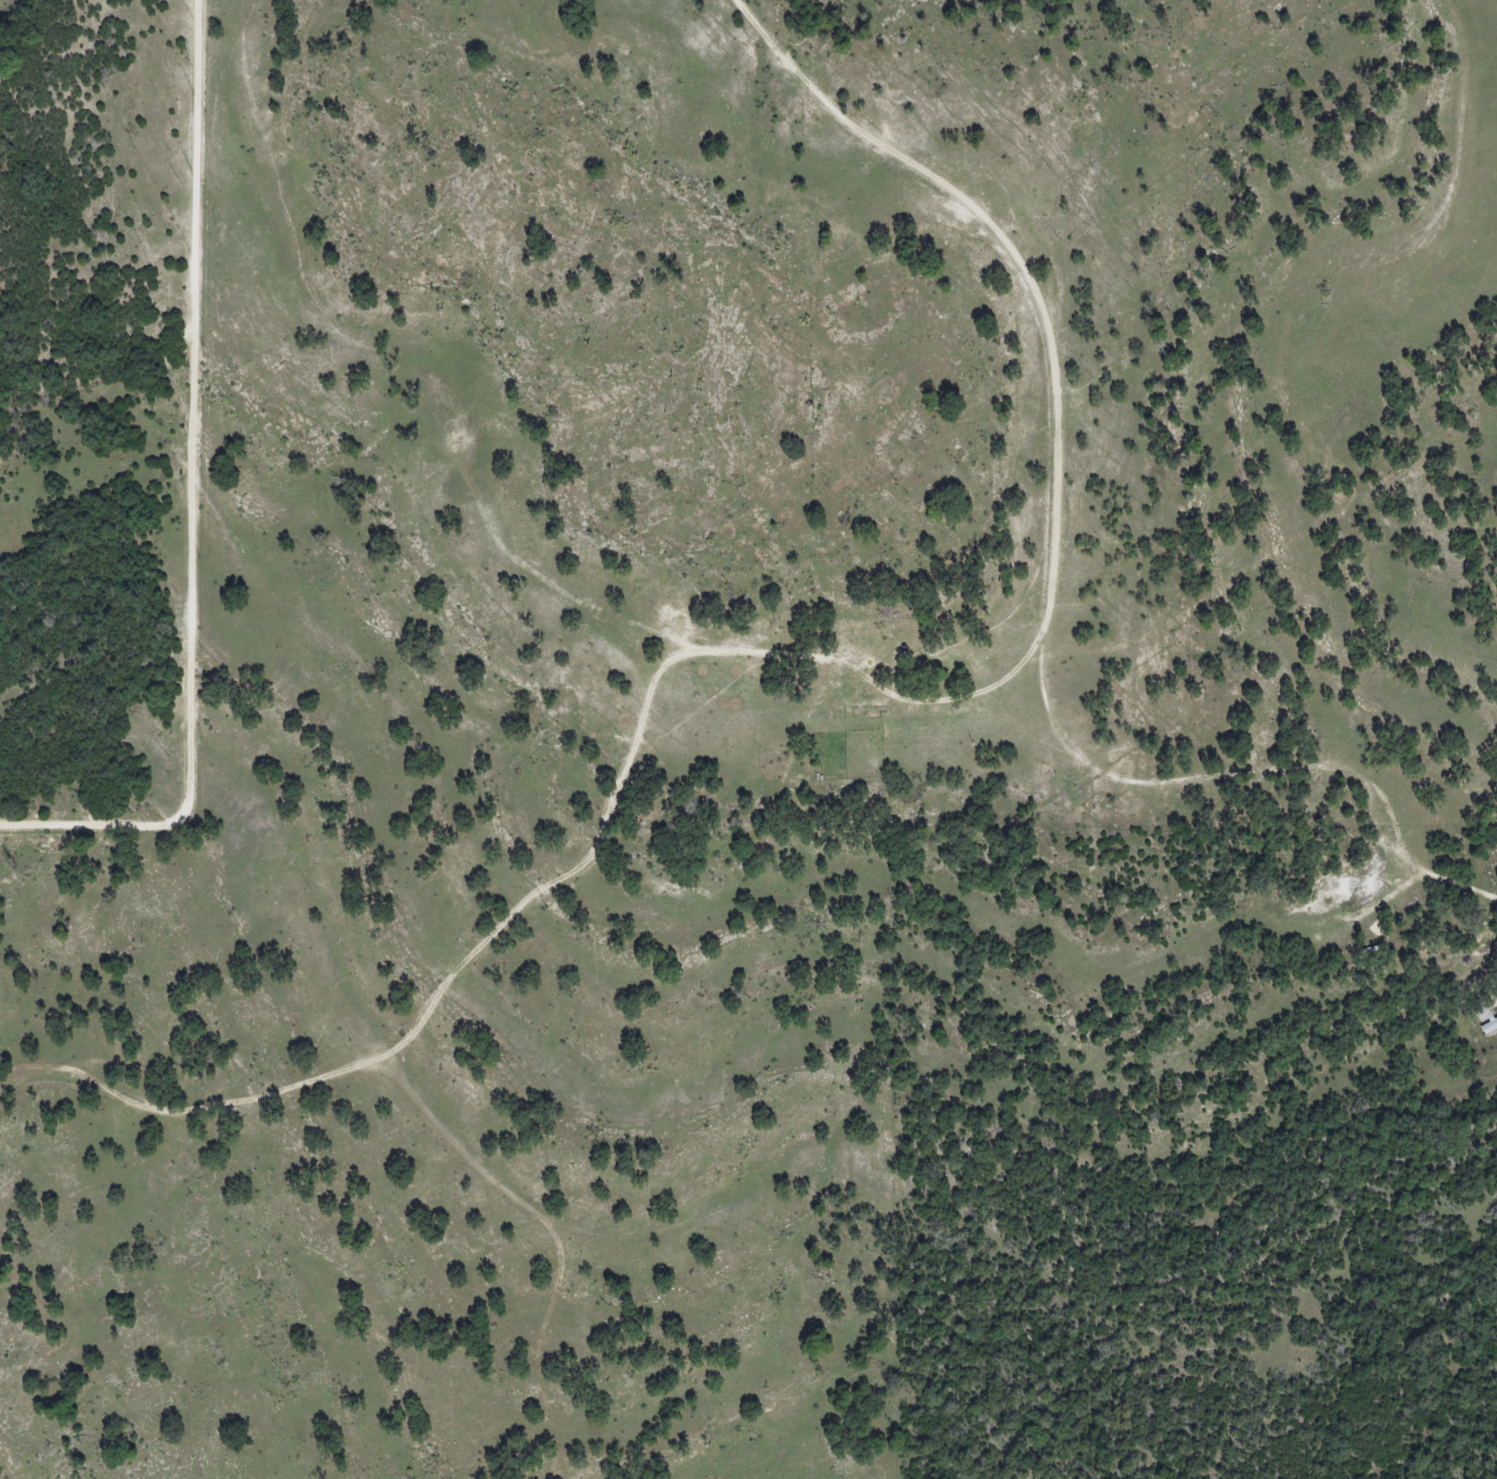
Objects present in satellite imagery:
road: (191, 500)
building: (1484, 1015)

